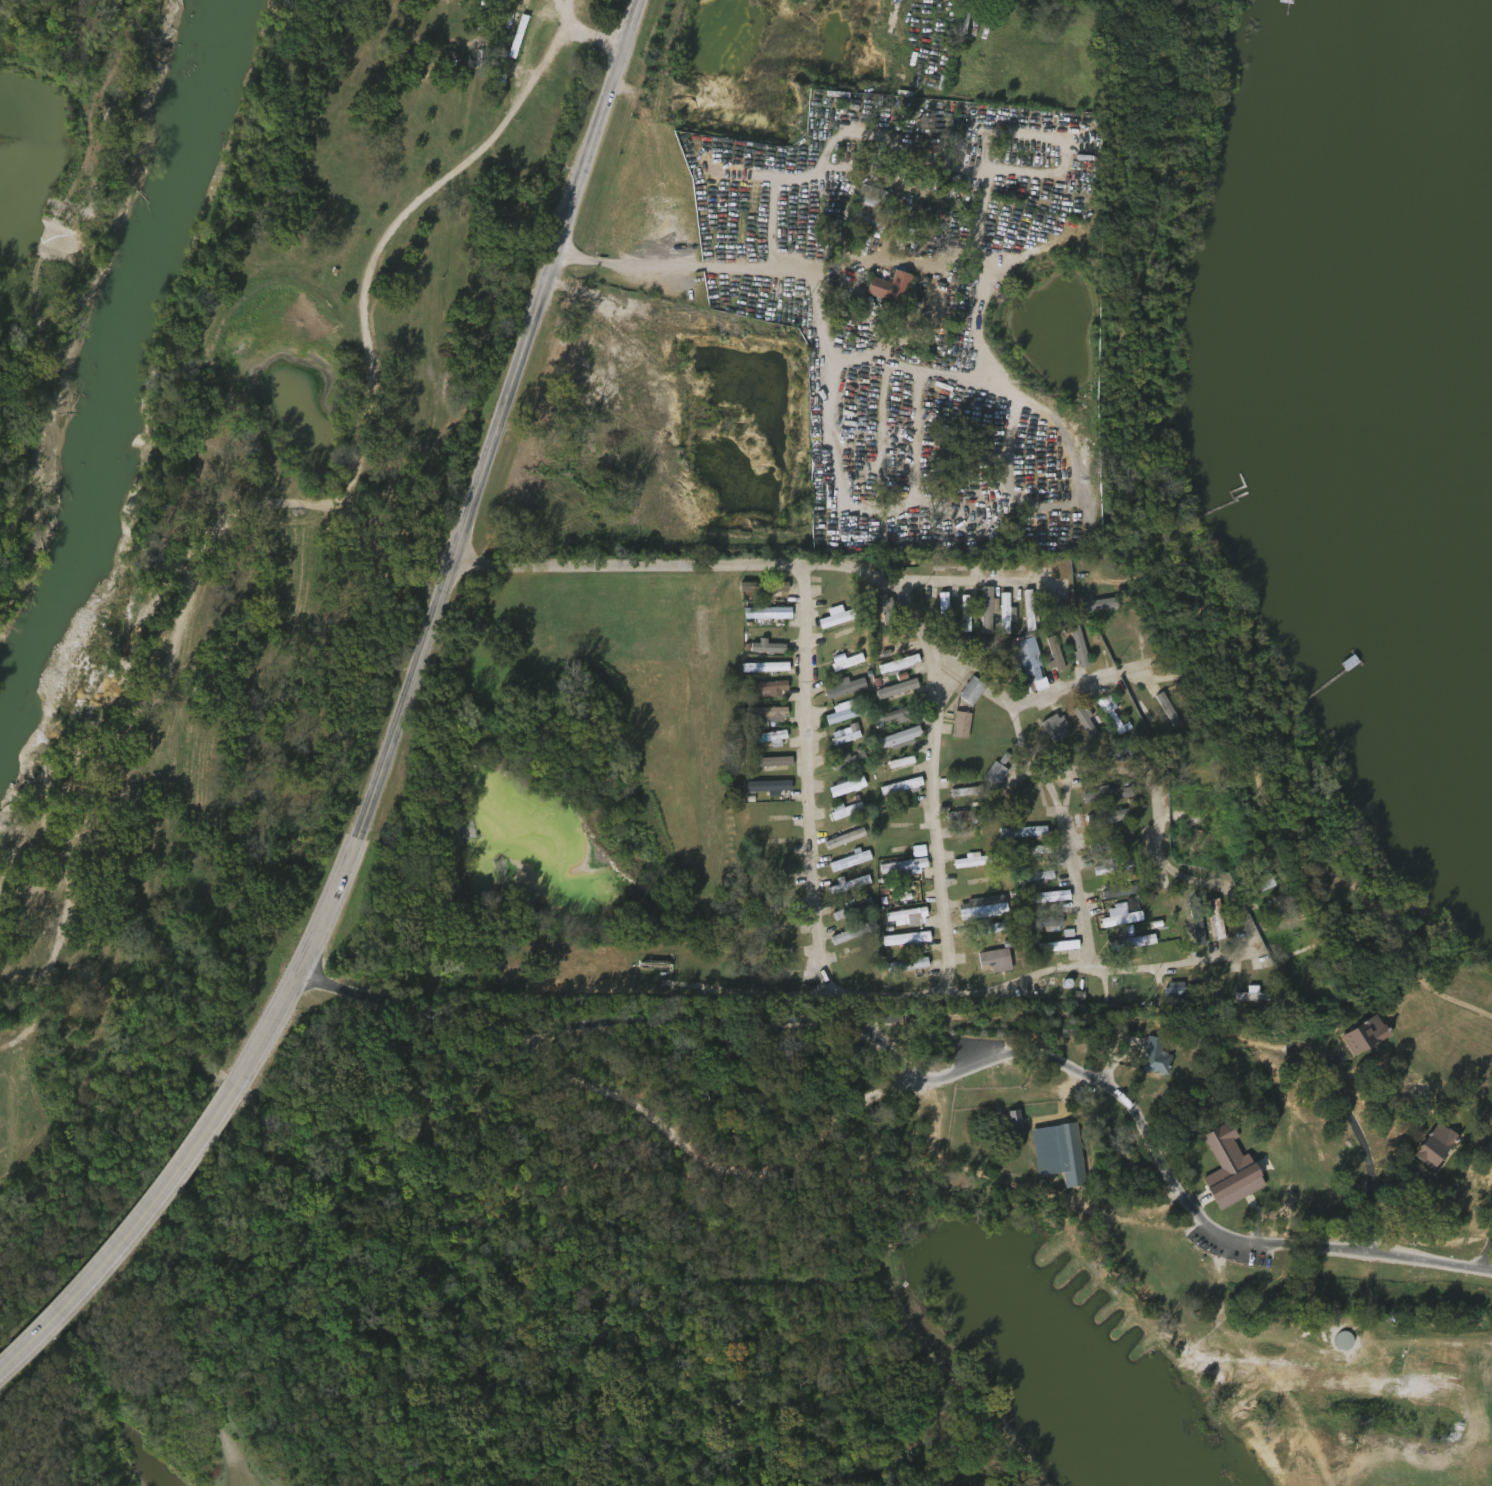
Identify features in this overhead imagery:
road: (583, 32)
road: (875, 62)
building: (900, 143)
building: (871, 209)
road: (687, 268)
building: (892, 288)
river: (137, 363)
road: (957, 581)
building: (1094, 583)
road: (877, 584)
building: (765, 587)
building: (742, 589)
building: (833, 602)
building: (1092, 606)
building: (1031, 610)
building: (936, 611)
building: (988, 611)
building: (1021, 611)
building: (886, 612)
building: (978, 612)
building: (768, 613)
building: (1008, 613)
building: (999, 616)
building: (888, 643)
building: (874, 644)
building: (1109, 645)
building: (1080, 646)
building: (770, 648)
building: (1071, 649)
building: (1048, 656)
building: (1030, 660)
building: (848, 662)
building: (899, 664)
building: (771, 668)
building: (770, 687)
building: (845, 688)
building: (889, 690)
building: (973, 690)
building: (964, 692)
building: (1161, 709)
building: (846, 711)
building: (768, 713)
road: (1027, 713)
building: (1143, 713)
building: (1103, 715)
building: (888, 719)
building: (1078, 720)
building: (962, 725)
road: (394, 726)
building: (953, 726)
building: (1055, 726)
building: (838, 736)
building: (769, 737)
building: (902, 738)
building: (771, 762)
building: (838, 762)
building: (996, 774)
road: (1046, 782)
building: (902, 786)
building: (759, 787)
building: (839, 788)
building: (966, 793)
building: (1107, 795)
building: (847, 809)
building: (969, 815)
building: (1025, 832)
building: (838, 839)
building: (1198, 845)
building: (920, 851)
building: (977, 860)
building: (851, 861)
building: (1253, 864)
building: (905, 866)
building: (1204, 869)
building: (1040, 876)
building: (1264, 886)
building: (849, 887)
building: (1120, 892)
building: (1040, 898)
building: (1279, 903)
building: (989, 908)
building: (845, 909)
road: (1081, 914)
building: (1122, 915)
building: (908, 917)
building: (1219, 919)
building: (1208, 920)
building: (1198, 921)
building: (1286, 922)
building: (992, 928)
building: (1190, 930)
building: (853, 933)
building: (908, 939)
building: (1138, 942)
building: (996, 961)
building: (857, 962)
building: (909, 965)
building: (1317, 985)
building: (1171, 990)
road: (688, 992)
road: (911, 994)
building: (1259, 998)
road: (901, 1020)
road: (1011, 1050)
road: (1114, 1051)
building: (1147, 1058)
building: (1341, 1086)
road: (1286, 1091)
building: (1006, 1120)
road: (1454, 1128)
building: (1382, 1147)
building: (1490, 1152)
building: (1063, 1156)
building: (1222, 1170)
building: (1442, 1170)
road: (1149, 1225)

